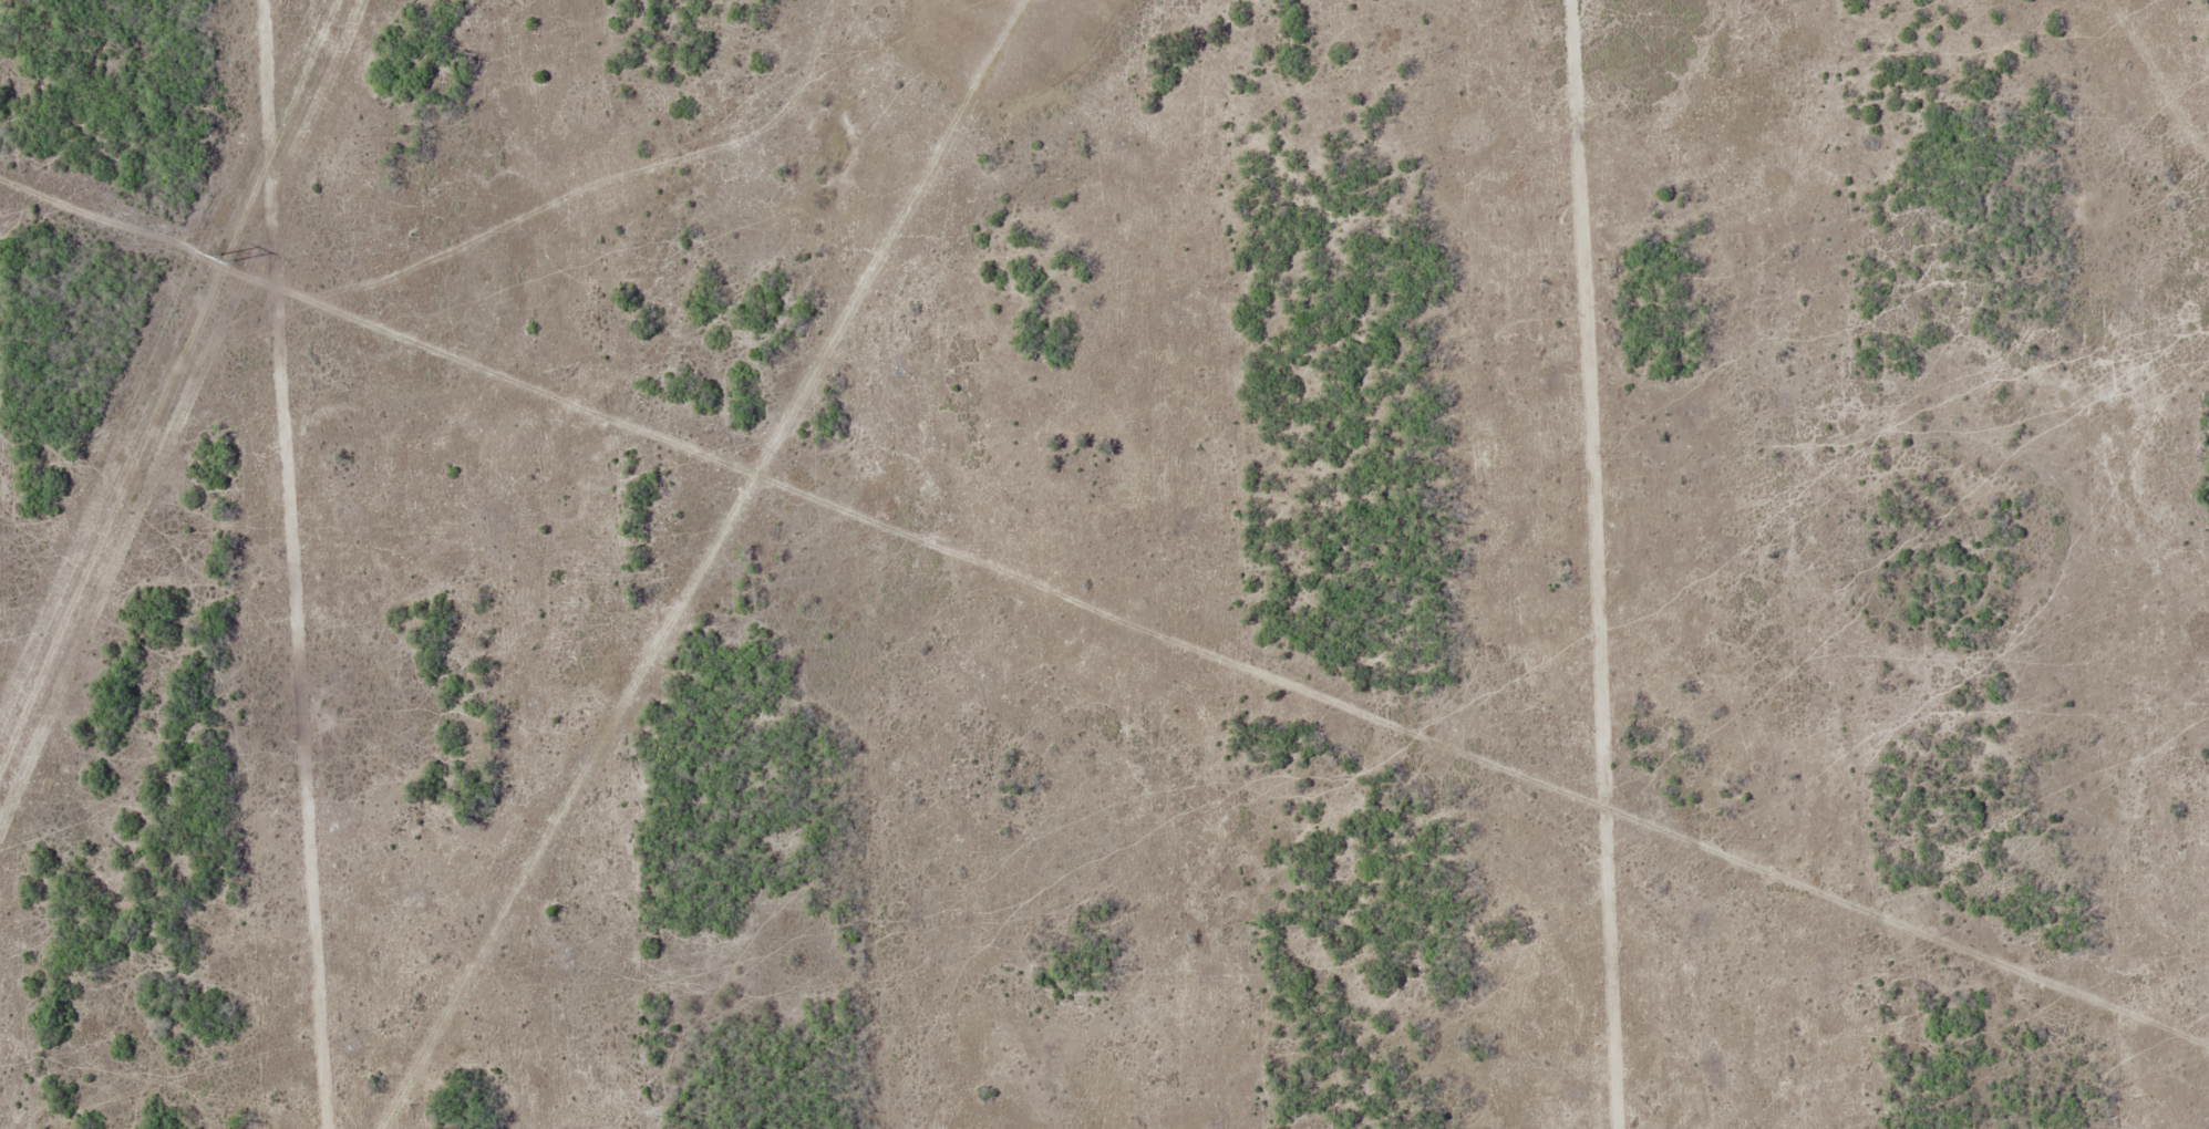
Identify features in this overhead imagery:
power tower: (229, 258)

